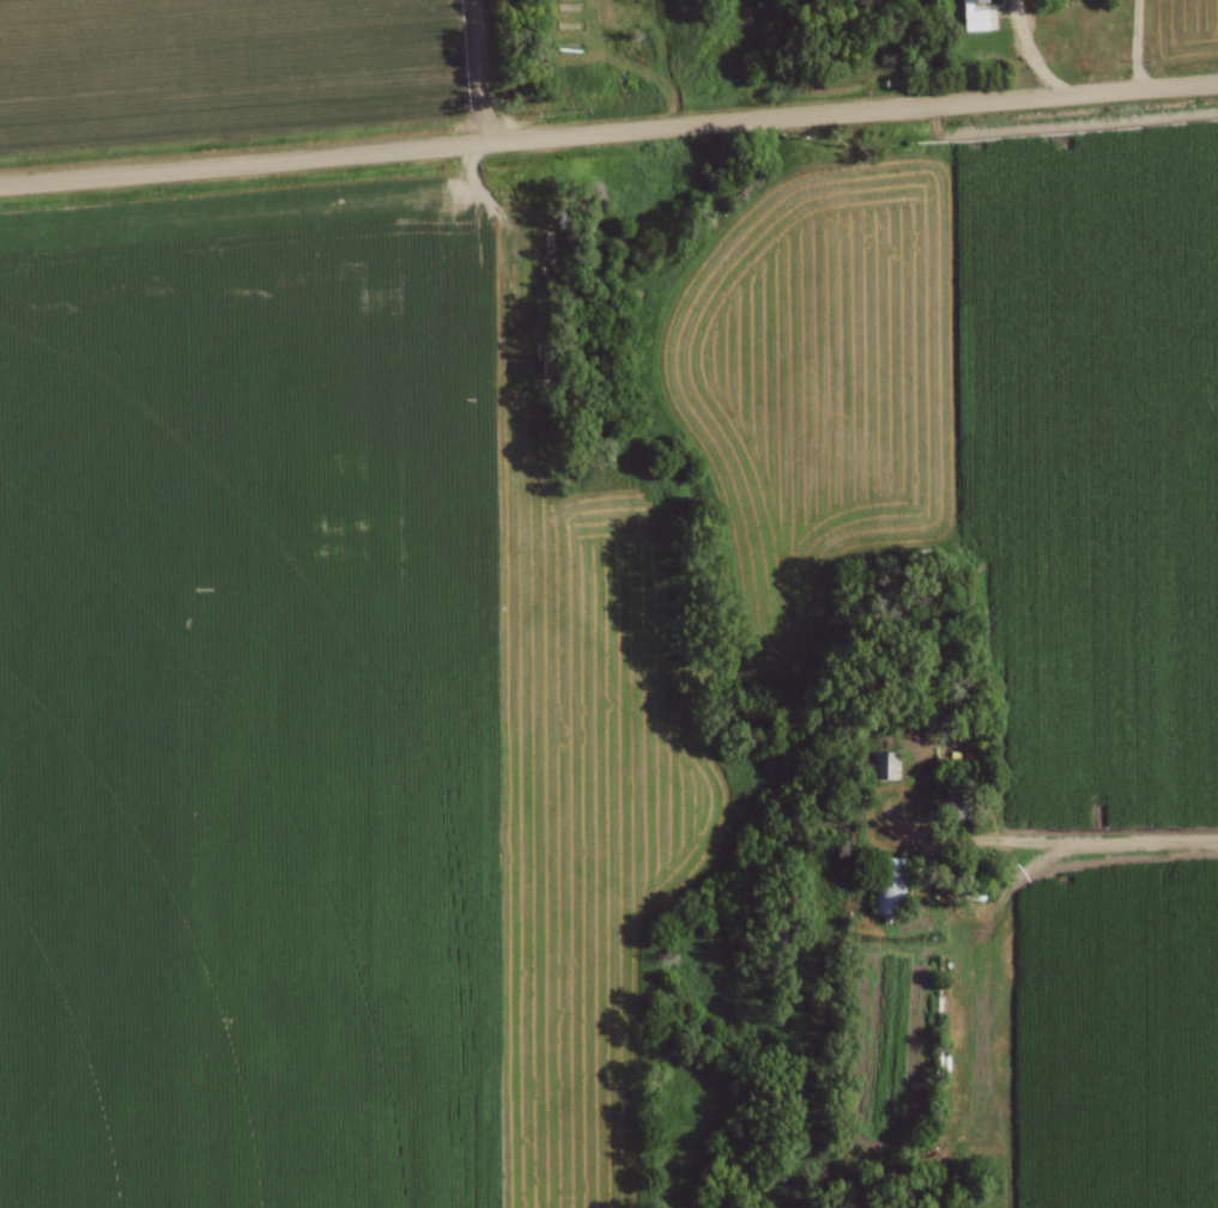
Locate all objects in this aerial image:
building: (971, 1)
building: (972, 20)
road: (1135, 44)
road: (1030, 51)
crop: (225, 68)
road: (608, 134)
crop: (988, 430)
crop: (304, 724)
building: (879, 764)
road: (1055, 846)
building: (885, 888)
crop: (1116, 1037)

